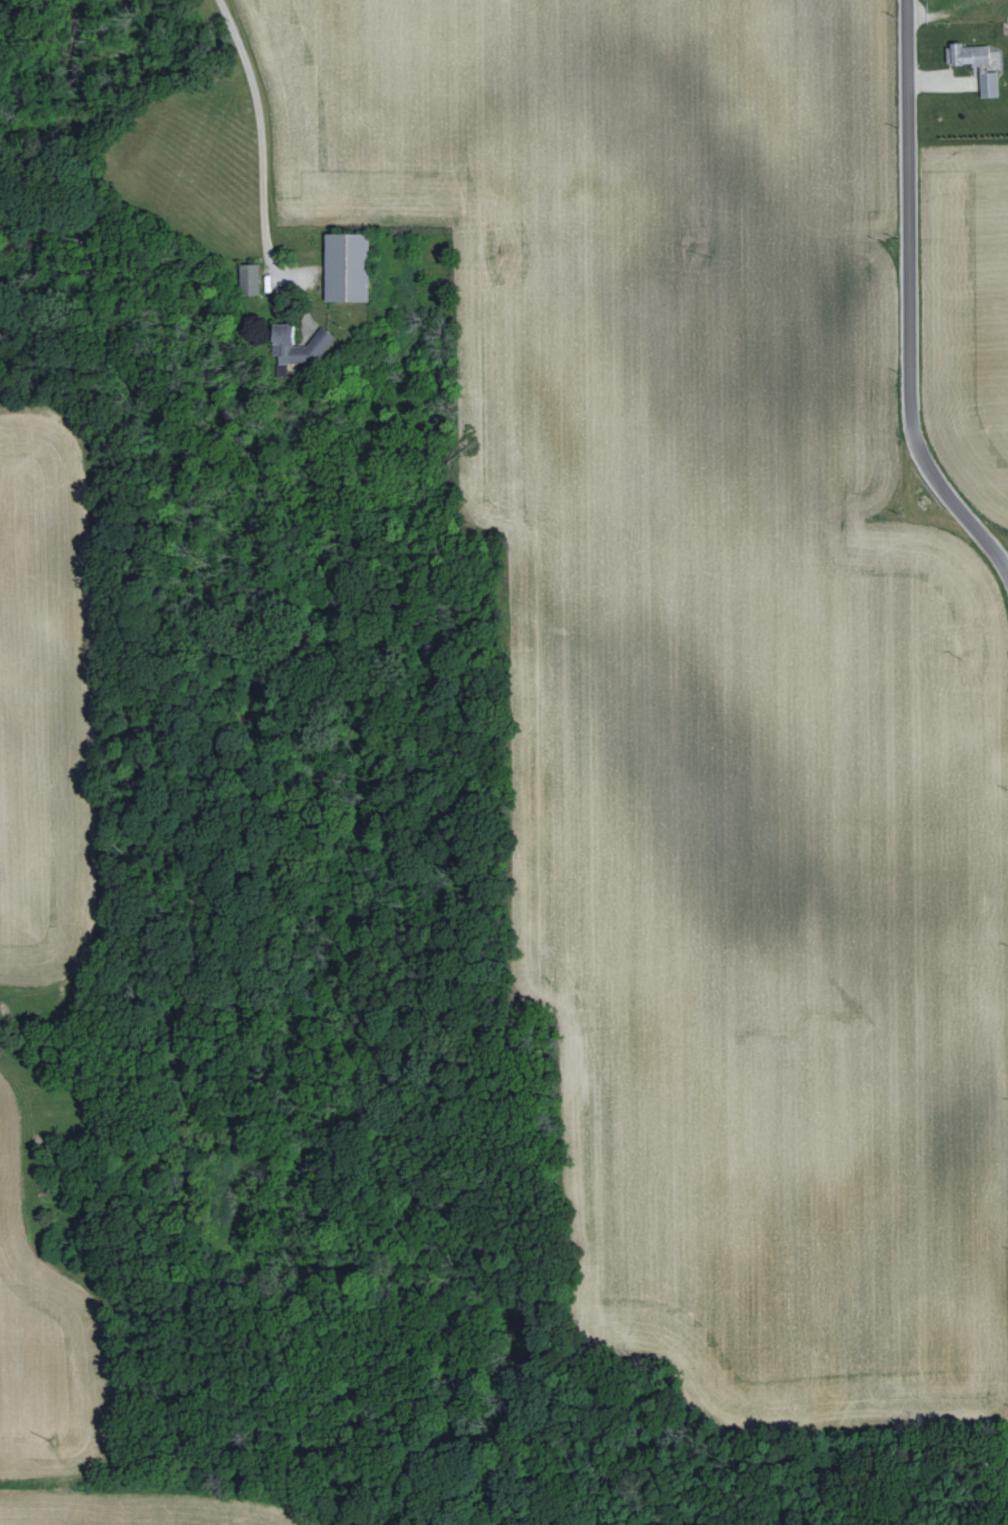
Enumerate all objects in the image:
building: (968, 55)
building: (985, 84)
road: (279, 165)
building: (341, 267)
building: (246, 279)
road: (906, 302)
building: (299, 347)

